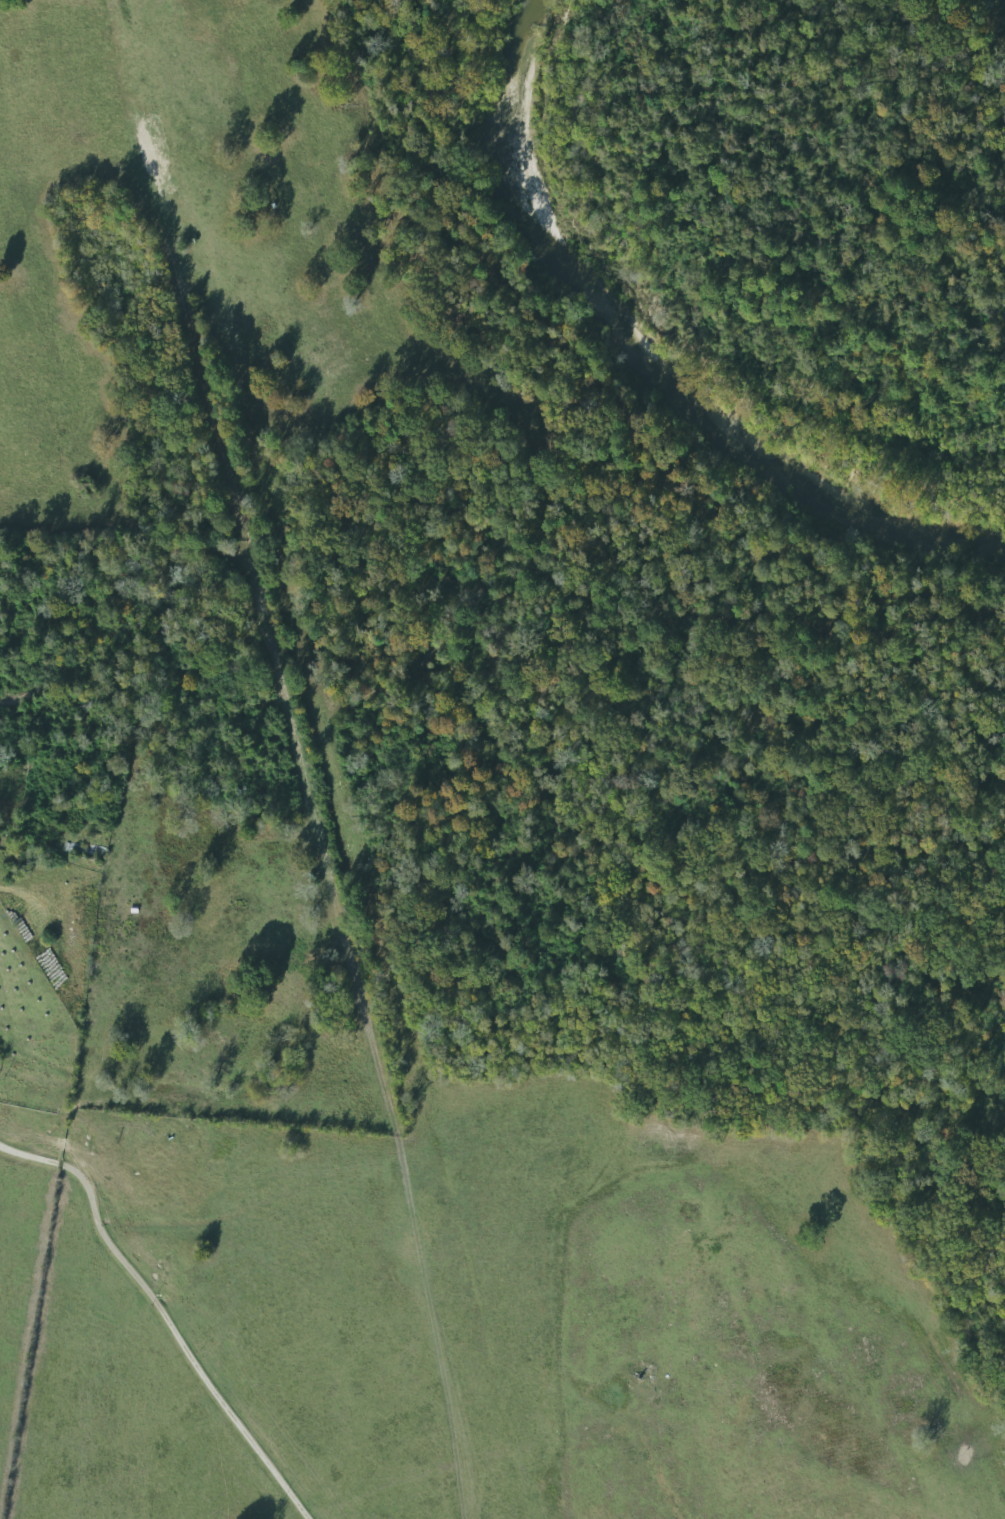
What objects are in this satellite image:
road: (163, 1315)

